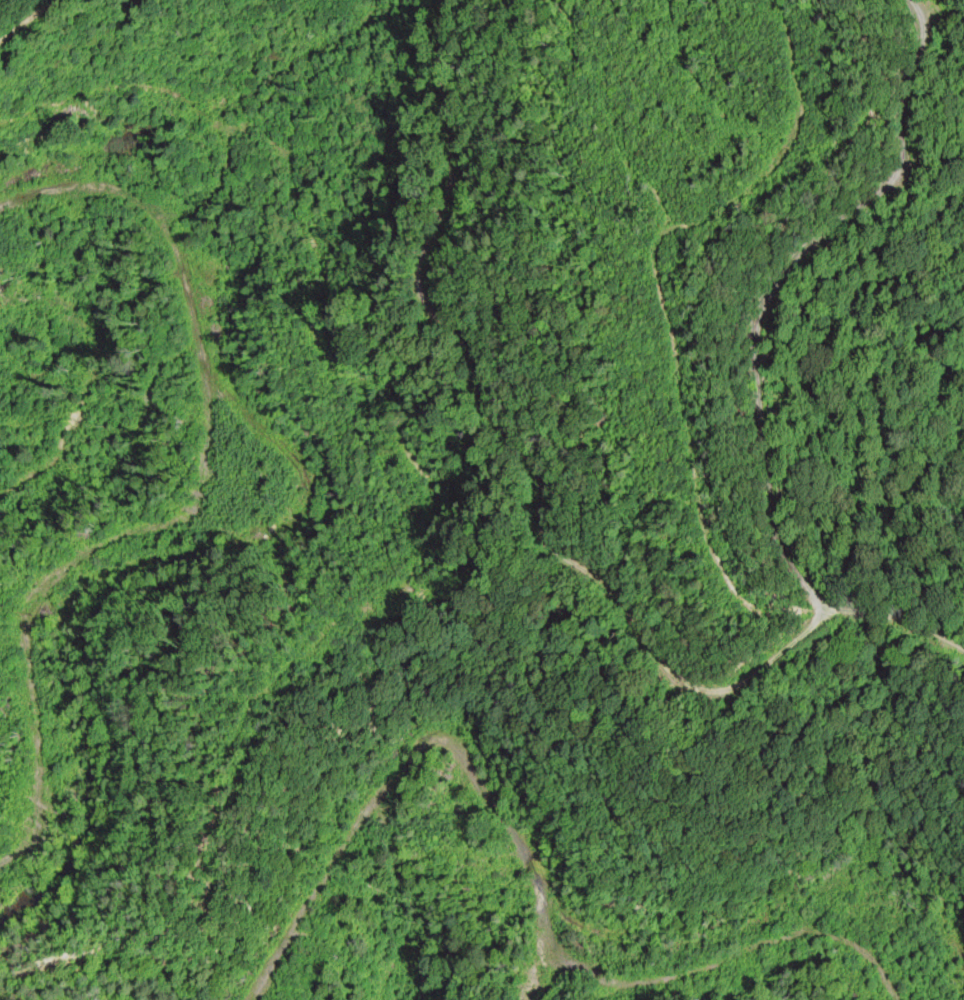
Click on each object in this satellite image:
road: (903, 182)
road: (781, 535)
road: (958, 646)

